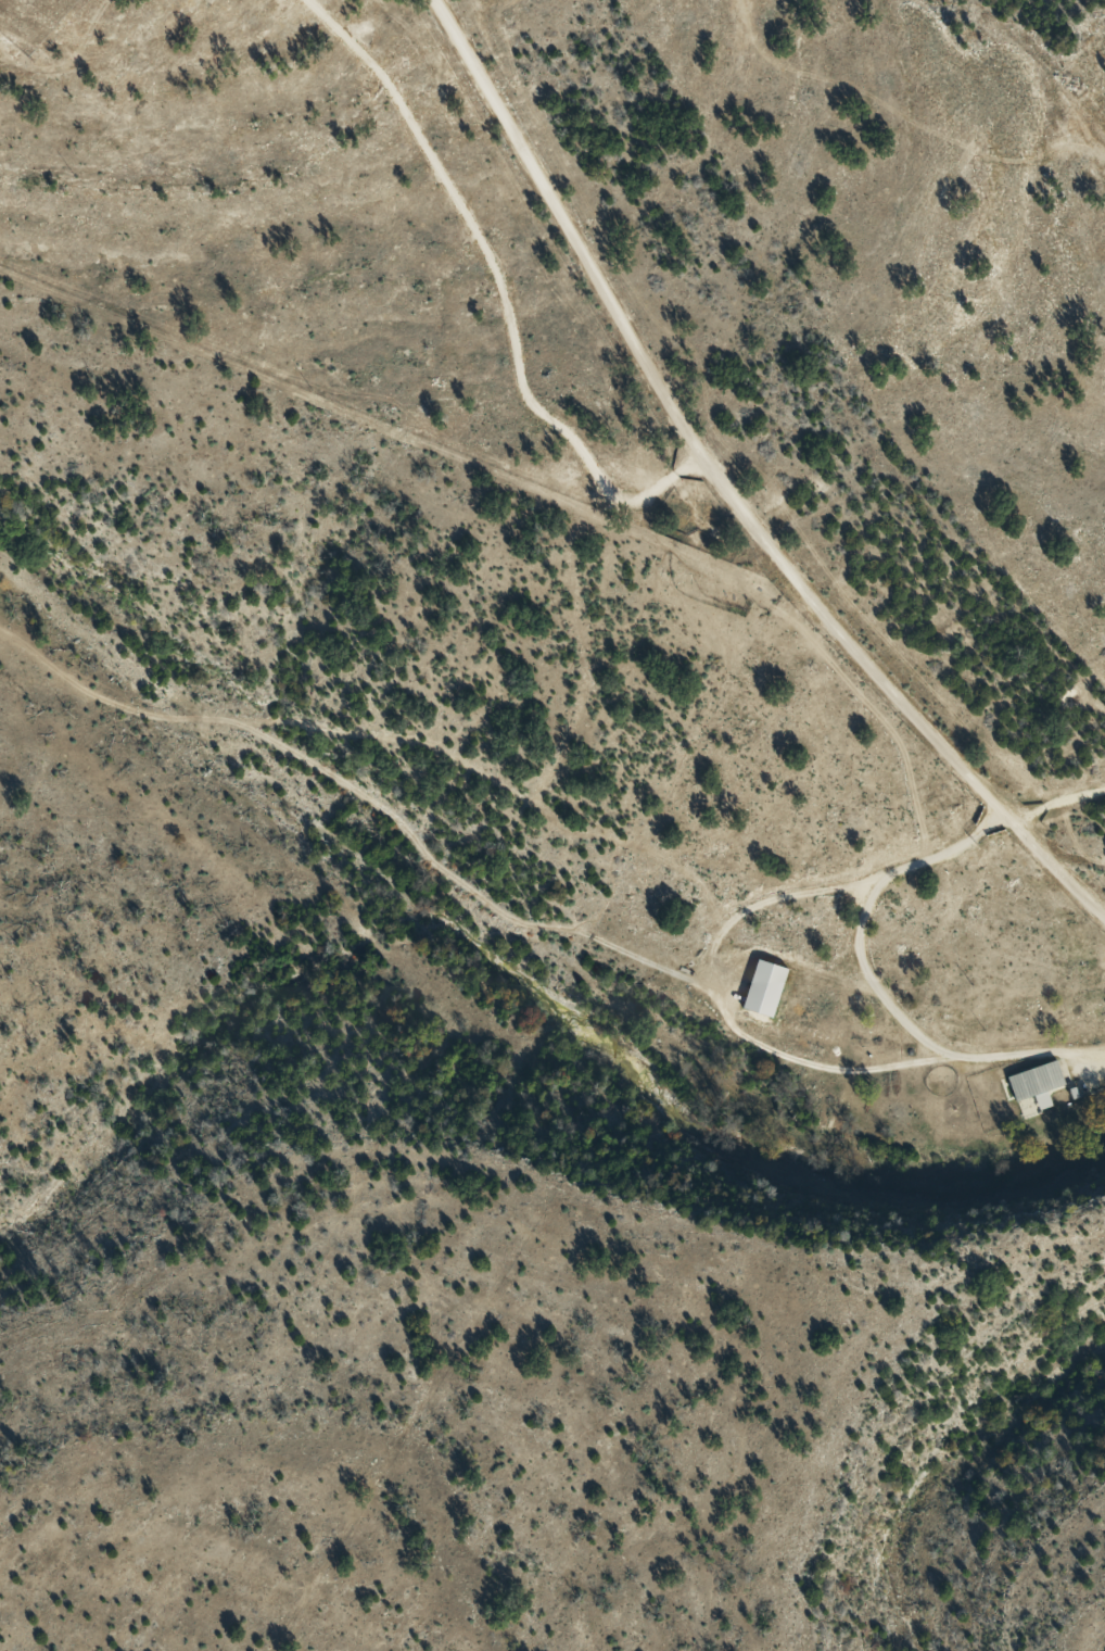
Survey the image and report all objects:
road: (702, 508)
building: (1038, 1087)

